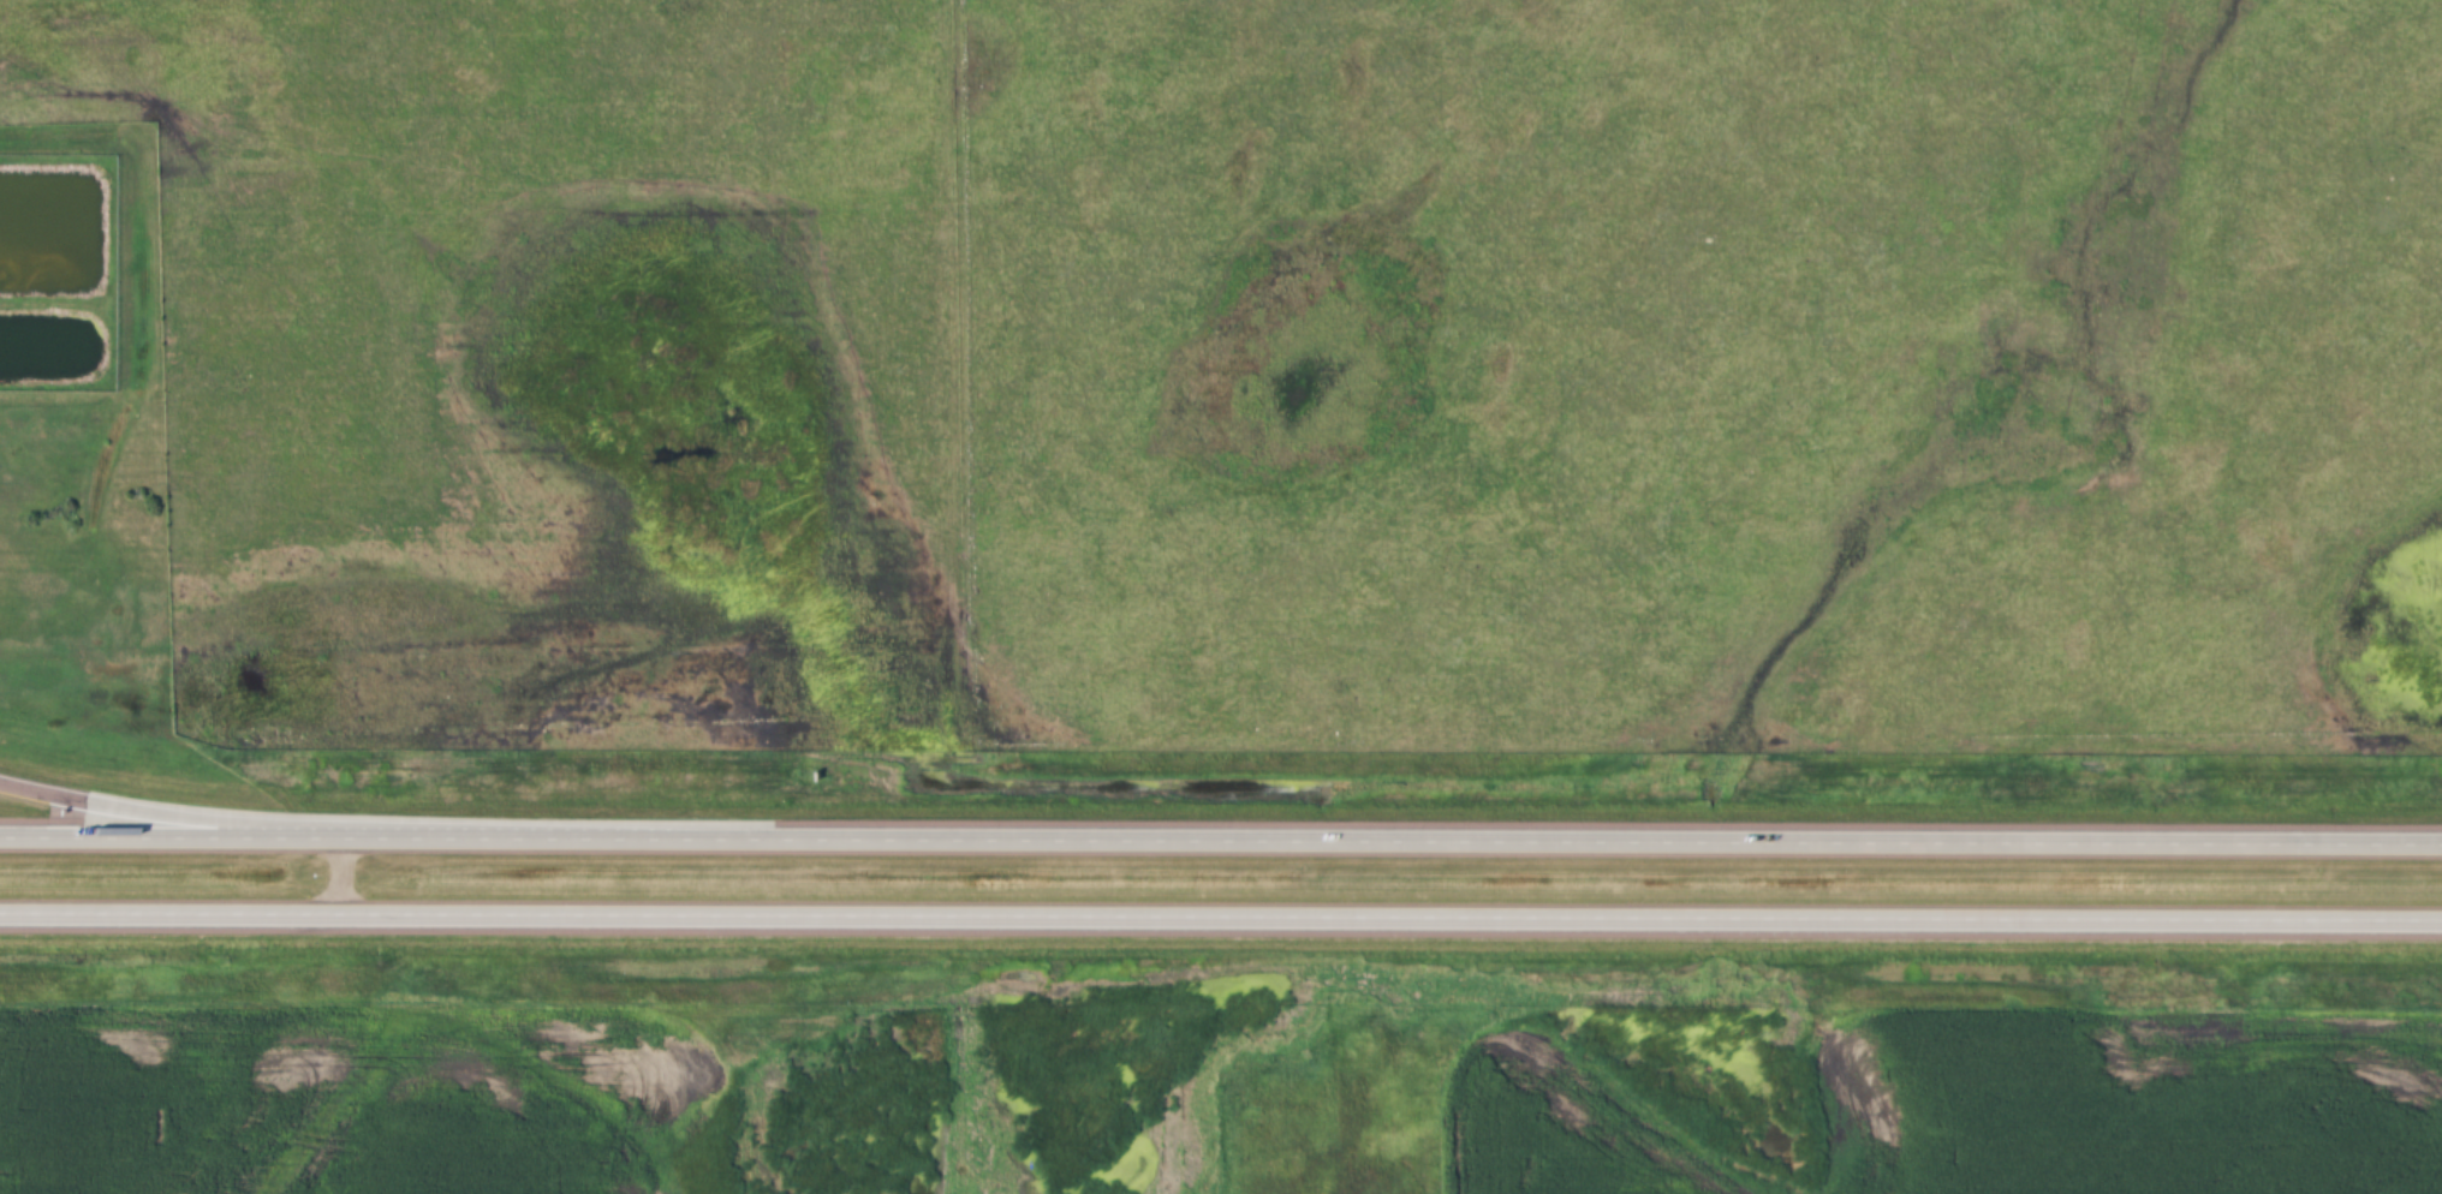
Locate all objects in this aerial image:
road: (245, 829)
road: (1220, 843)
road: (1221, 921)

